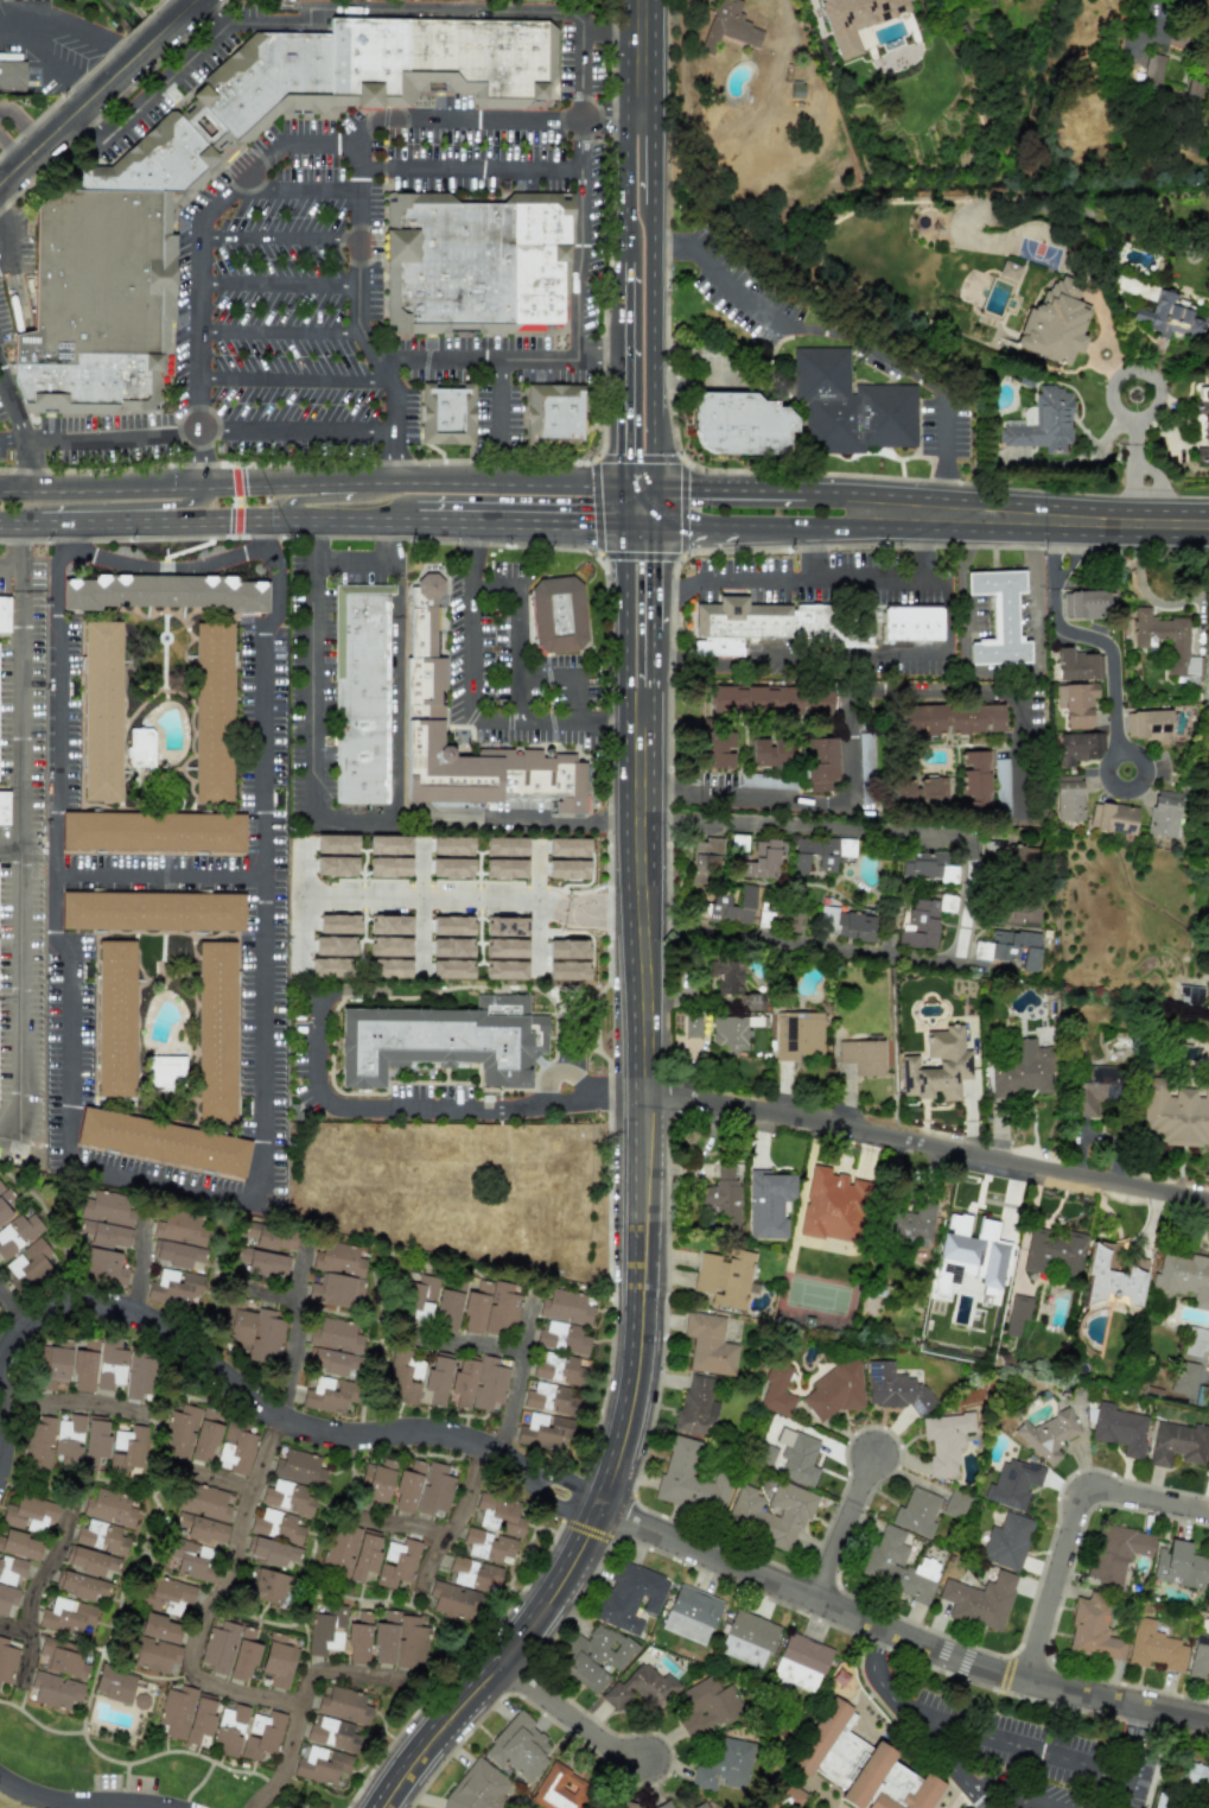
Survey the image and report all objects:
road: (402, 8)
road: (214, 11)
building: (854, 20)
road: (68, 27)
building: (726, 27)
road: (1198, 30)
road: (641, 59)
road: (58, 70)
building: (1152, 70)
road: (585, 71)
building: (12, 76)
road: (164, 81)
building: (1191, 88)
road: (98, 91)
road: (110, 106)
road: (452, 119)
road: (613, 120)
road: (89, 122)
road: (23, 123)
road: (28, 123)
road: (585, 145)
road: (11, 150)
road: (262, 159)
road: (651, 160)
road: (471, 170)
road: (358, 179)
road: (295, 186)
road: (0, 212)
road: (358, 212)
road: (7, 237)
road: (279, 239)
building: (478, 258)
road: (201, 260)
road: (357, 261)
road: (580, 262)
building: (1008, 269)
building: (96, 275)
road: (279, 283)
building: (1134, 287)
road: (622, 299)
road: (201, 305)
road: (356, 307)
building: (1167, 316)
building: (1205, 322)
building: (1054, 323)
road: (279, 330)
road: (842, 335)
road: (651, 345)
road: (365, 347)
road: (598, 349)
road: (199, 354)
road: (477, 361)
road: (381, 370)
road: (1134, 373)
road: (293, 380)
road: (695, 385)
road: (498, 397)
road: (12, 402)
road: (199, 405)
road: (395, 405)
building: (847, 407)
building: (451, 414)
building: (556, 414)
building: (1027, 415)
building: (1043, 423)
building: (1203, 423)
building: (740, 424)
road: (298, 431)
road: (100, 434)
road: (1134, 440)
road: (396, 457)
road: (198, 458)
road: (527, 462)
road: (683, 462)
road: (25, 464)
road: (311, 484)
road: (638, 487)
road: (1160, 487)
road: (855, 493)
road: (1133, 493)
road: (331, 497)
road: (237, 500)
road: (109, 506)
road: (592, 506)
road: (654, 506)
road: (623, 507)
road: (206, 519)
road: (1132, 522)
road: (517, 524)
road: (638, 526)
road: (695, 527)
road: (896, 529)
road: (18, 541)
road: (515, 545)
road: (867, 546)
road: (469, 553)
road: (808, 553)
road: (928, 554)
road: (359, 557)
road: (640, 558)
road: (9, 565)
road: (170, 566)
parking lot: (814, 575)
road: (655, 577)
road: (801, 579)
road: (664, 585)
building: (426, 590)
building: (163, 592)
building: (1086, 604)
building: (4, 614)
building: (739, 617)
building: (998, 617)
building: (559, 618)
building: (840, 622)
road: (623, 623)
building: (915, 628)
road: (517, 630)
road: (1093, 641)
road: (948, 642)
building: (1167, 642)
road: (653, 656)
road: (769, 658)
building: (337, 662)
building: (1077, 665)
road: (1003, 670)
road: (566, 679)
road: (987, 687)
building: (362, 692)
building: (770, 699)
road: (644, 700)
building: (1075, 700)
road: (466, 705)
building: (100, 711)
building: (212, 712)
building: (950, 718)
road: (607, 719)
building: (1150, 725)
building: (1078, 746)
road: (668, 748)
building: (715, 749)
building: (769, 753)
building: (820, 763)
building: (974, 780)
building: (921, 791)
building: (1068, 798)
road: (794, 799)
building: (4, 808)
building: (1163, 813)
building: (1112, 818)
road: (359, 821)
road: (536, 823)
building: (152, 831)
building: (336, 844)
building: (389, 844)
road: (9, 845)
building: (452, 845)
building: (505, 846)
building: (567, 848)
building: (1011, 856)
road: (19, 857)
building: (705, 859)
building: (762, 861)
building: (825, 863)
building: (336, 865)
building: (388, 867)
building: (925, 867)
building: (452, 868)
building: (504, 868)
building: (567, 869)
road: (160, 880)
road: (969, 894)
road: (467, 897)
building: (727, 907)
building: (152, 911)
building: (1016, 912)
building: (790, 920)
building: (923, 920)
building: (338, 924)
building: (845, 924)
building: (389, 925)
building: (452, 925)
building: (505, 926)
building: (333, 945)
building: (389, 946)
building: (505, 947)
building: (1008, 947)
building: (452, 959)
building: (567, 959)
building: (330, 968)
building: (390, 968)
building: (505, 970)
building: (725, 976)
building: (749, 1002)
building: (115, 1019)
building: (692, 1026)
building: (216, 1032)
building: (732, 1032)
building: (797, 1034)
building: (443, 1040)
building: (863, 1057)
building: (937, 1066)
building: (1023, 1070)
building: (165, 1072)
building: (1093, 1089)
road: (640, 1097)
road: (714, 1103)
building: (1175, 1114)
building: (163, 1142)
road: (178, 1184)
building: (723, 1194)
building: (4, 1203)
building: (769, 1203)
building: (833, 1206)
building: (914, 1217)
building: (106, 1220)
building: (178, 1227)
building: (17, 1233)
building: (268, 1236)
building: (1054, 1251)
building: (176, 1254)
building: (968, 1257)
road: (140, 1263)
building: (261, 1263)
building: (27, 1264)
building: (103, 1267)
building: (336, 1274)
building: (724, 1277)
building: (1112, 1277)
building: (1183, 1277)
building: (176, 1288)
road: (266, 1292)
building: (422, 1299)
building: (448, 1307)
building: (490, 1308)
road: (11, 1309)
building: (1017, 1313)
building: (564, 1321)
building: (252, 1331)
road: (294, 1332)
building: (335, 1336)
building: (1195, 1341)
building: (708, 1344)
road: (467, 1345)
building: (330, 1362)
building: (52, 1364)
building: (110, 1369)
building: (559, 1369)
road: (227, 1375)
road: (517, 1376)
building: (1184, 1377)
building: (418, 1378)
building: (477, 1383)
building: (893, 1388)
building: (776, 1390)
building: (834, 1390)
building: (329, 1395)
building: (548, 1398)
road: (70, 1401)
building: (696, 1406)
building: (1119, 1428)
building: (542, 1430)
building: (190, 1434)
building: (1048, 1435)
building: (52, 1440)
building: (94, 1441)
building: (944, 1441)
building: (1177, 1444)
road: (489, 1446)
building: (235, 1448)
building: (127, 1449)
building: (796, 1457)
road: (516, 1463)
building: (299, 1468)
building: (1207, 1468)
road: (214, 1476)
building: (691, 1478)
road: (571, 1482)
building: (1012, 1483)
building: (374, 1485)
building: (422, 1489)
road: (602, 1489)
building: (287, 1497)
building: (955, 1504)
road: (561, 1506)
building: (109, 1508)
building: (916, 1511)
road: (458, 1512)
building: (747, 1512)
building: (203, 1514)
building: (30, 1515)
road: (401, 1522)
road: (1071, 1522)
building: (275, 1525)
road: (586, 1525)
building: (494, 1528)
road: (844, 1528)
building: (100, 1536)
building: (1006, 1542)
building: (20, 1546)
building: (271, 1552)
building: (350, 1552)
building: (1116, 1553)
building: (90, 1561)
building: (193, 1561)
building: (397, 1561)
building: (897, 1565)
building: (1178, 1566)
building: (12, 1571)
building: (475, 1574)
building: (81, 1585)
building: (267, 1586)
road: (34, 1588)
building: (1208, 1592)
building: (165, 1596)
building: (629, 1597)
building: (7, 1599)
road: (210, 1599)
building: (454, 1600)
building: (979, 1600)
building: (691, 1614)
building: (66, 1616)
road: (13, 1628)
building: (1093, 1629)
building: (326, 1631)
road: (895, 1635)
building: (747, 1638)
building: (357, 1639)
building: (400, 1641)
building: (157, 1643)
building: (1154, 1647)
building: (229, 1651)
building: (593, 1656)
building: (1198, 1656)
building: (62, 1658)
building: (6, 1661)
building: (278, 1661)
building: (800, 1662)
road: (478, 1676)
building: (114, 1685)
building: (641, 1688)
road: (884, 1688)
building: (55, 1690)
road: (303, 1701)
building: (344, 1706)
building: (706, 1706)
building: (186, 1714)
road: (567, 1715)
building: (230, 1727)
building: (332, 1733)
building: (262, 1734)
road: (1133, 1740)
road: (1029, 1746)
building: (517, 1747)
road: (947, 1759)
building: (322, 1765)
building: (725, 1765)
building: (860, 1765)
building: (1191, 1772)
building: (478, 1788)
building: (558, 1789)
road: (1120, 1791)
road: (1018, 1795)
building: (787, 1797)
road: (975, 1799)
building: (1163, 1800)
building: (629, 1804)
building: (663, 1804)
building: (834, 1804)
building: (1205, 1804)
road: (81, 1806)
building: (700, 1806)
building: (598, 1807)

